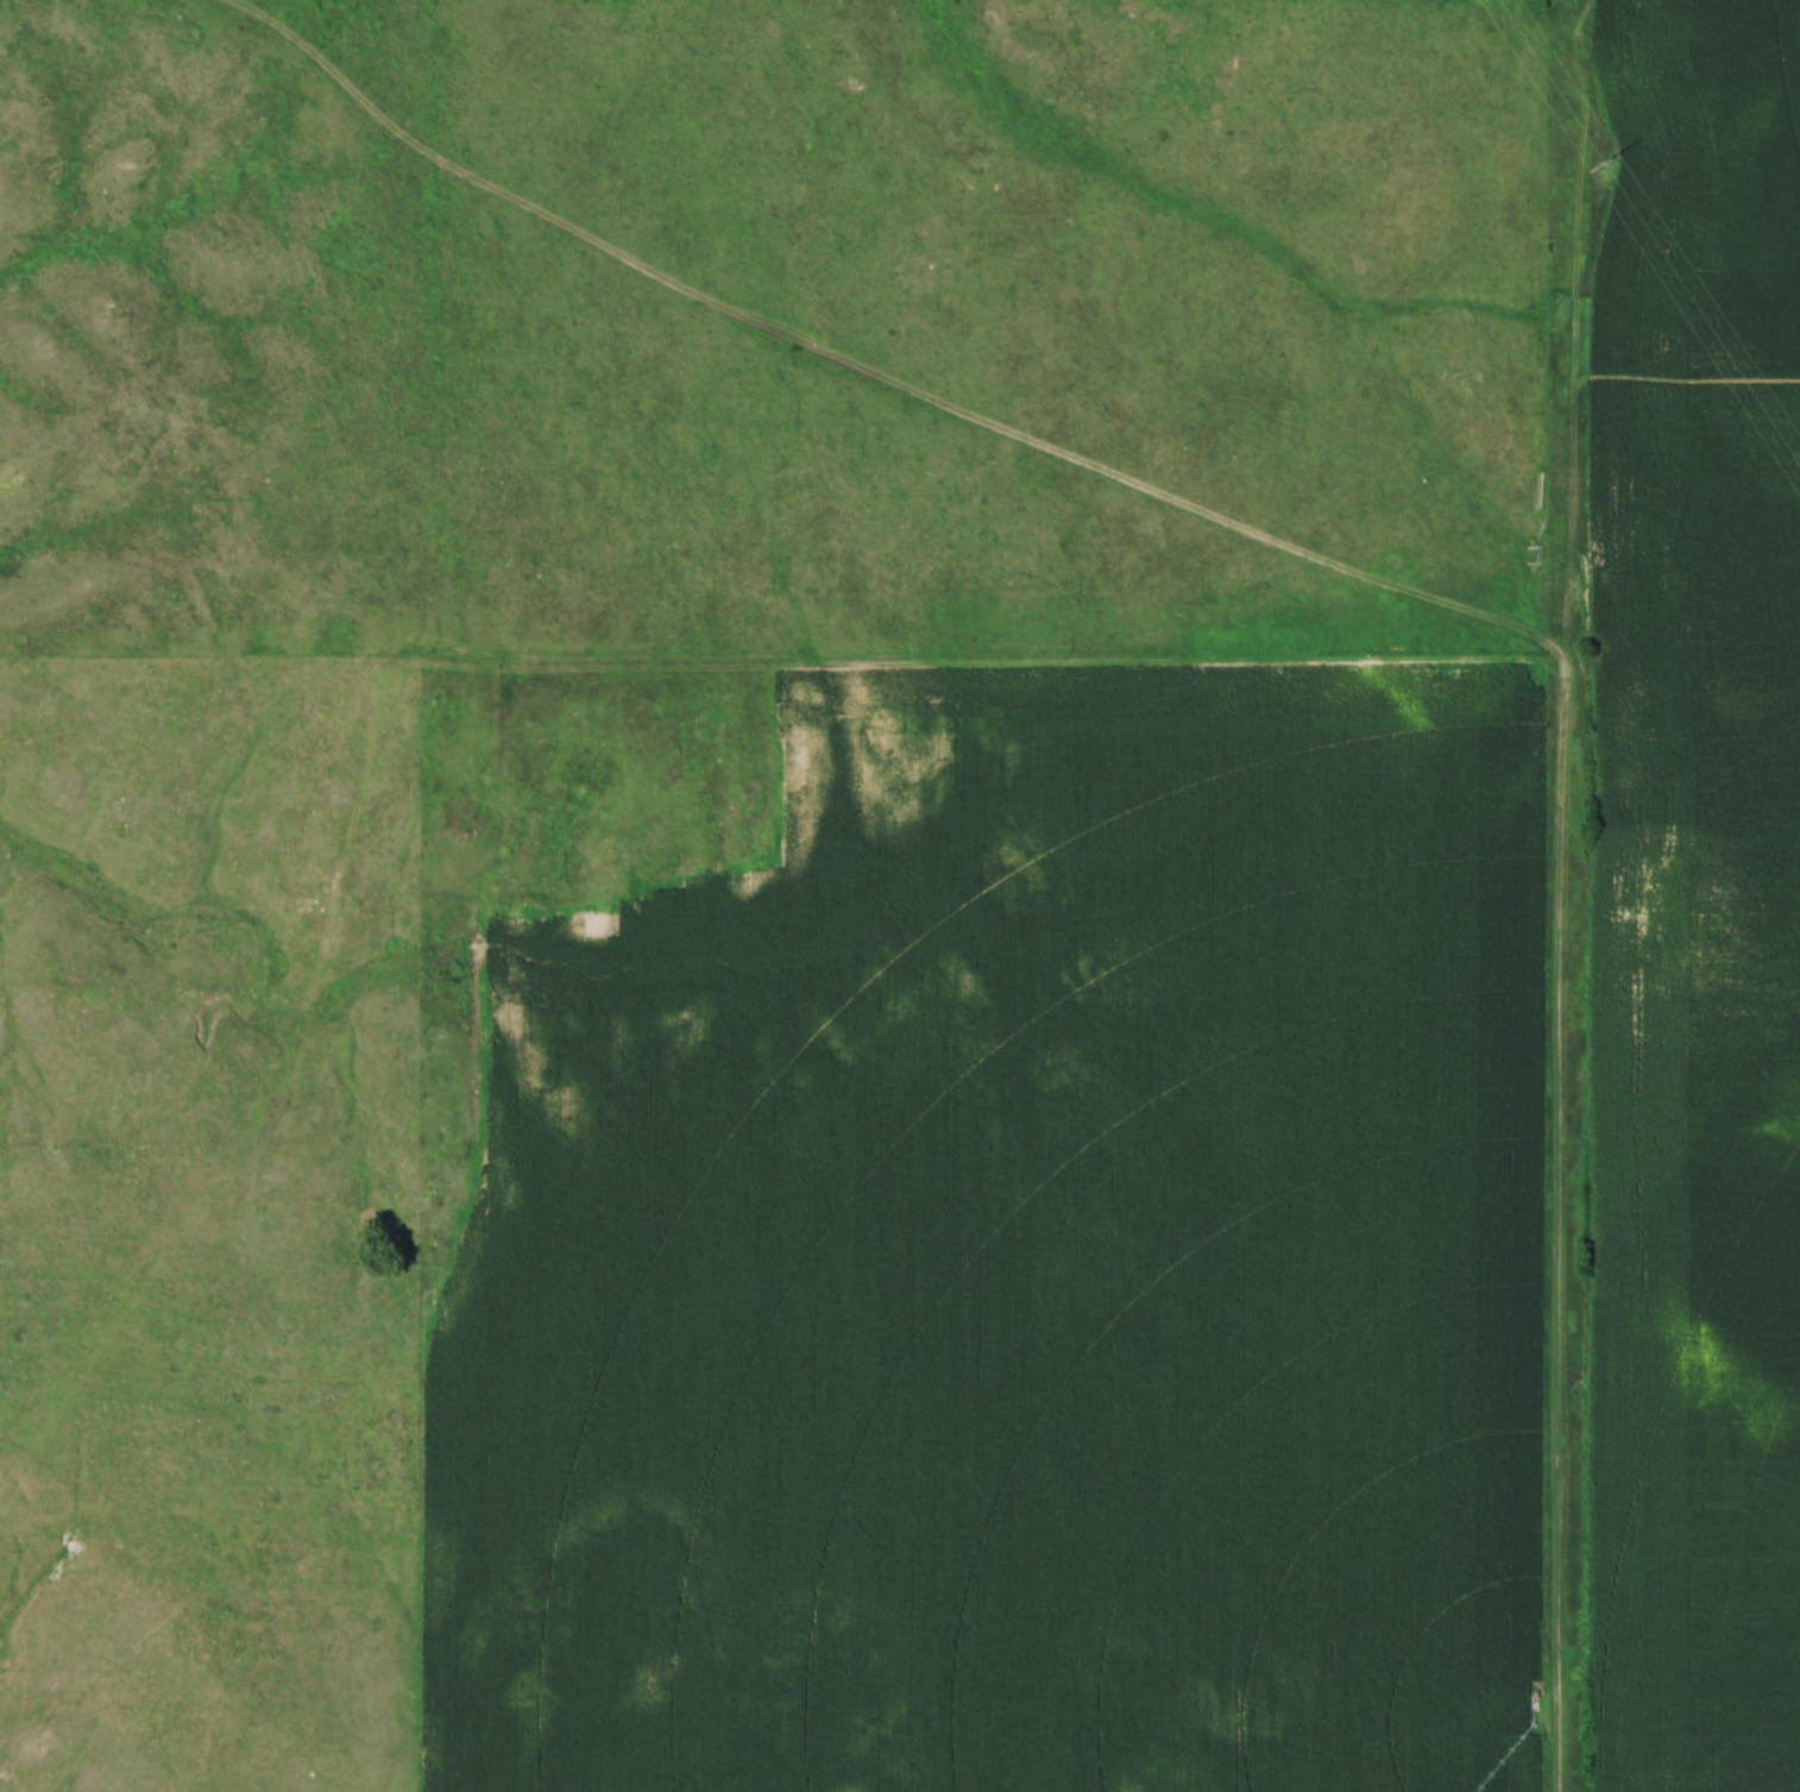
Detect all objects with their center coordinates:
power tower: (1609, 166)
road: (1568, 916)

